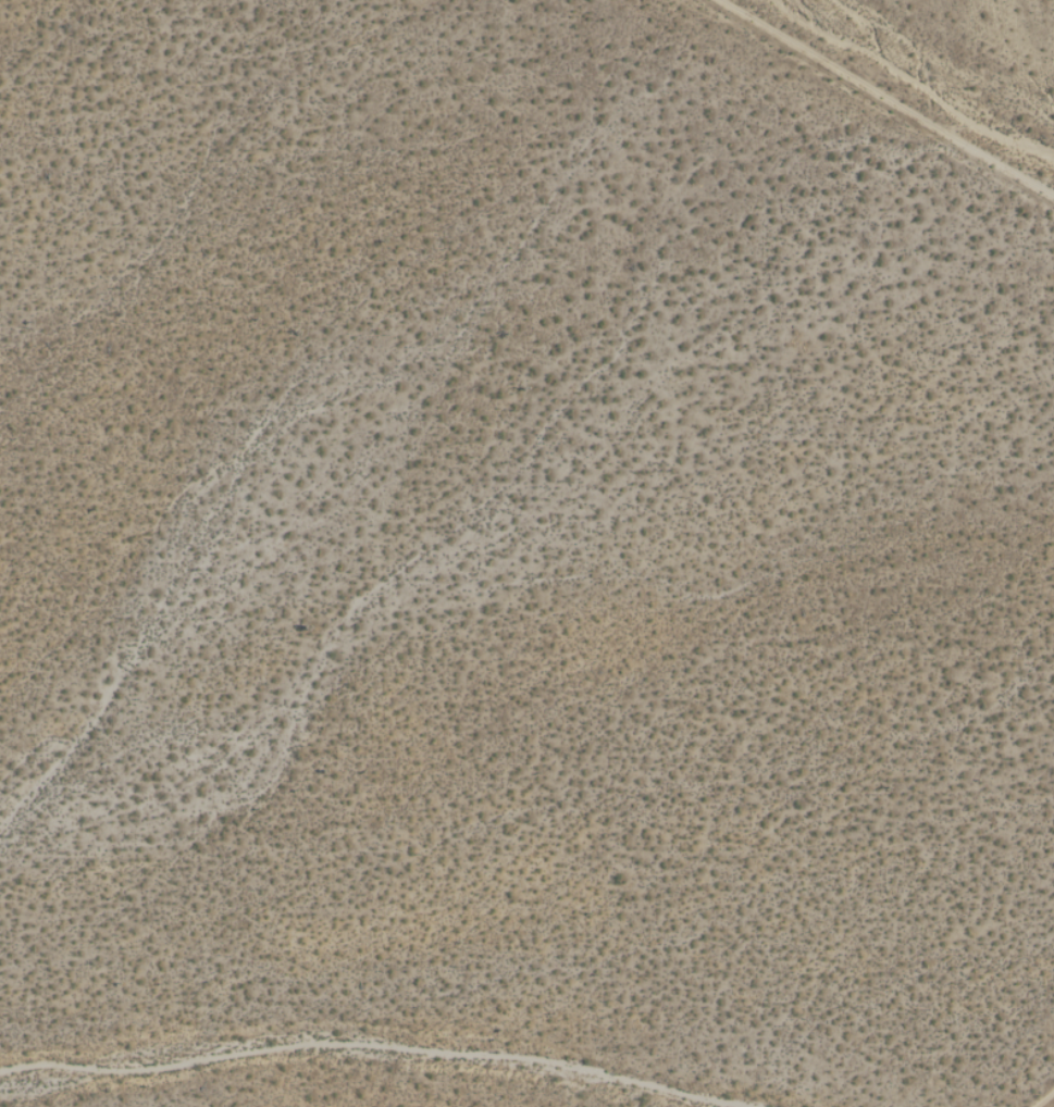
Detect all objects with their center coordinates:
road: (886, 98)

